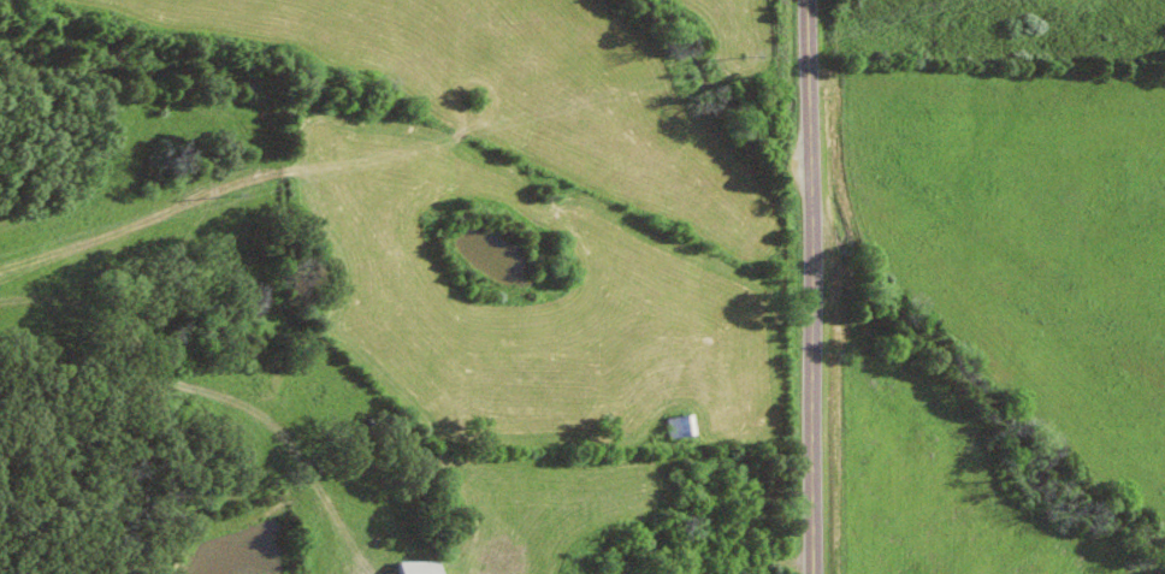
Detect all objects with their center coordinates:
road: (816, 286)
building: (685, 425)
building: (425, 567)

